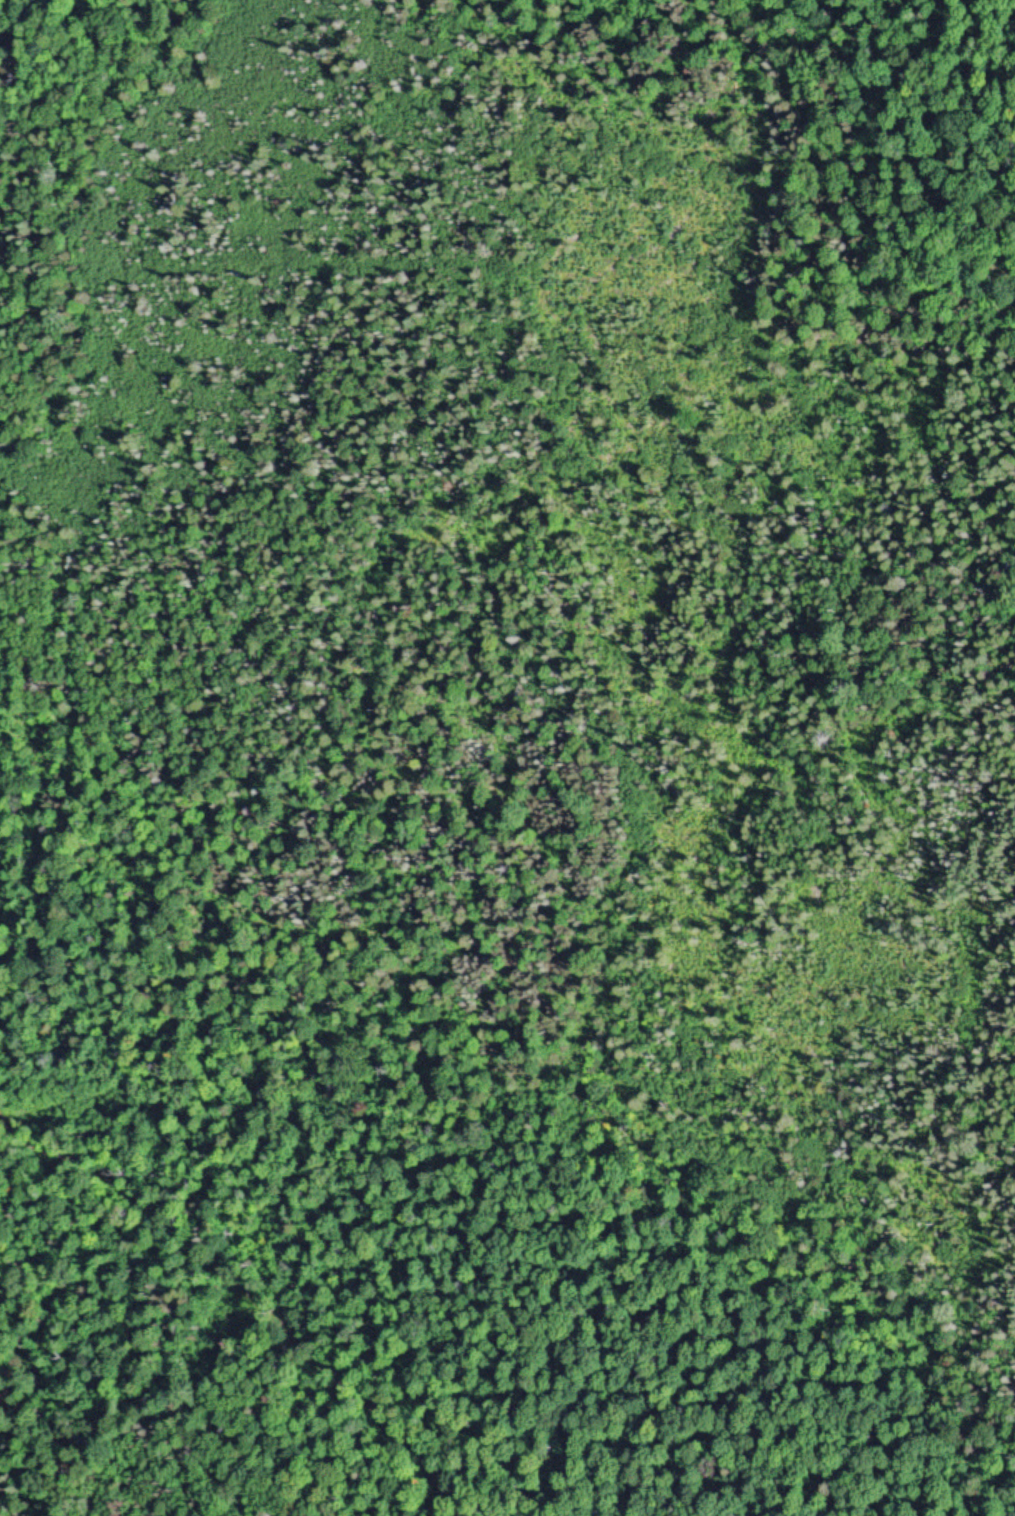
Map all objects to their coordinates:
road: (235, 1299)

